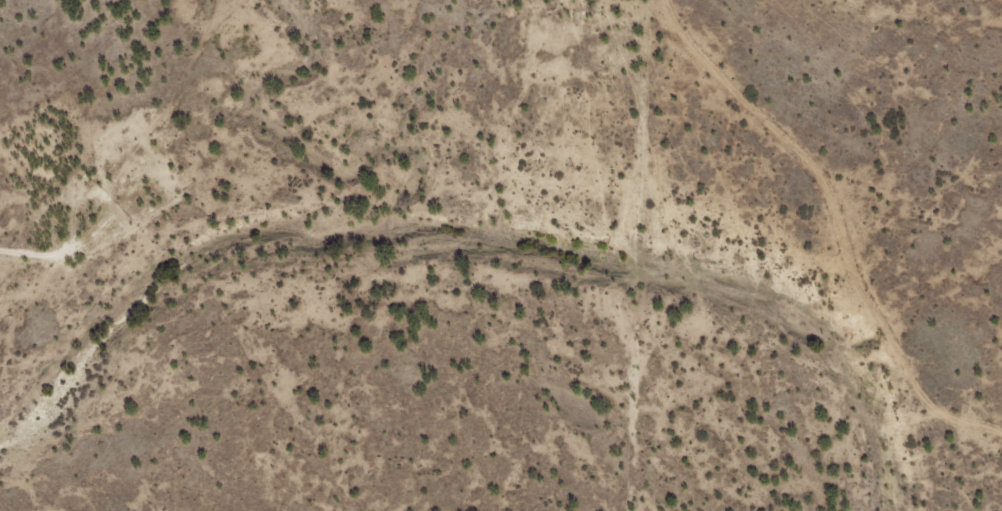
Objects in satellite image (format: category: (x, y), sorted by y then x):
road: (861, 233)
road: (673, 255)

